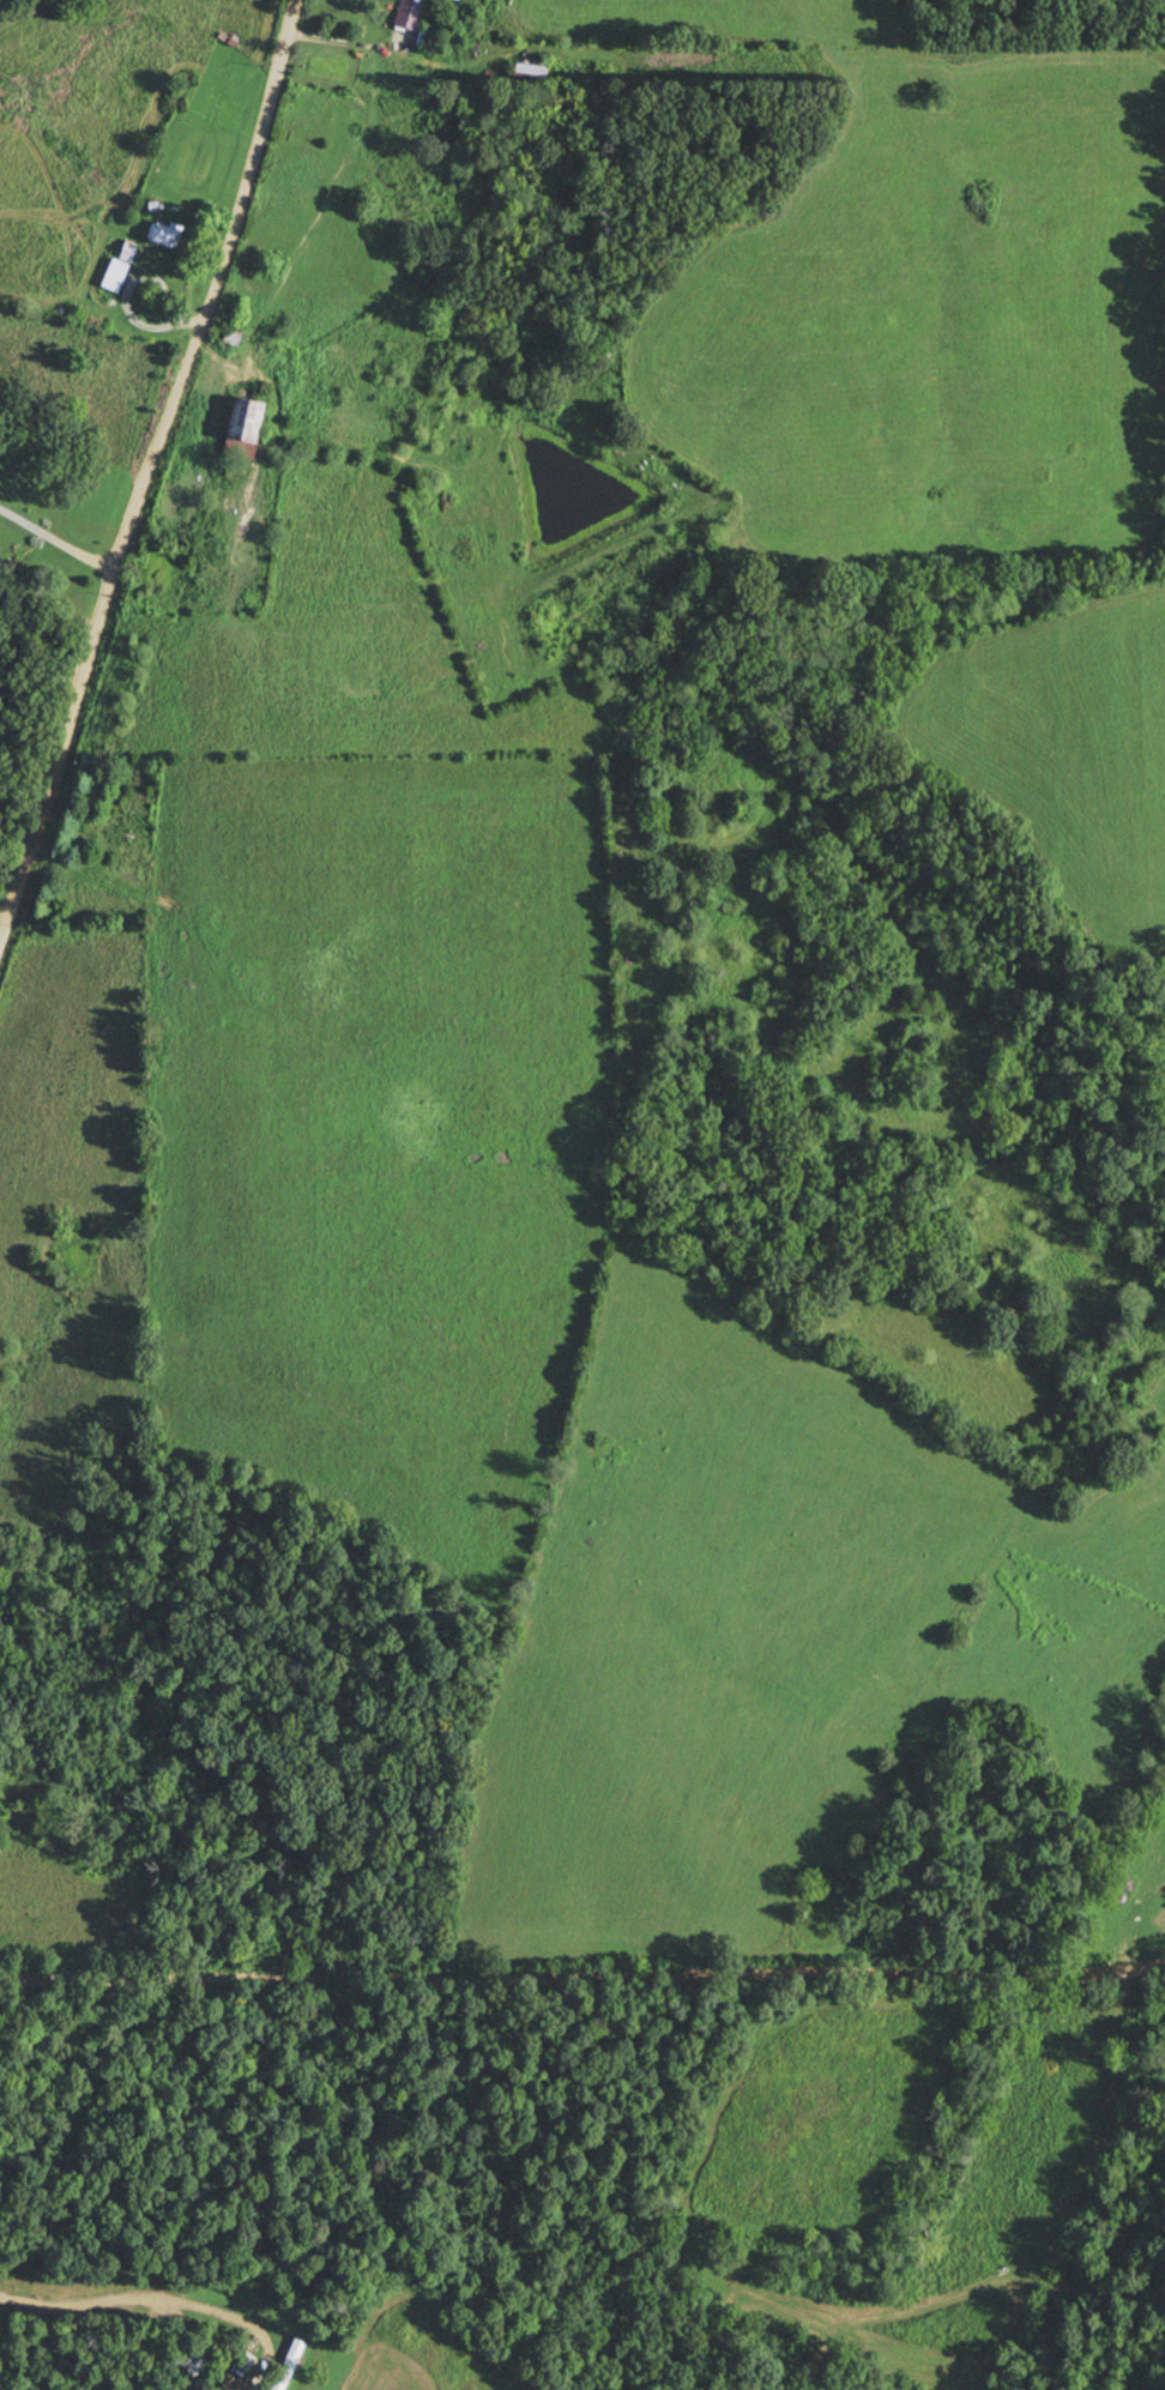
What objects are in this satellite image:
building: (410, 13)
building: (531, 74)
building: (167, 233)
building: (121, 264)
building: (235, 337)
building: (247, 428)
road: (149, 467)
road: (58, 536)
road: (5, 907)
road: (582, 1976)
building: (290, 2362)

